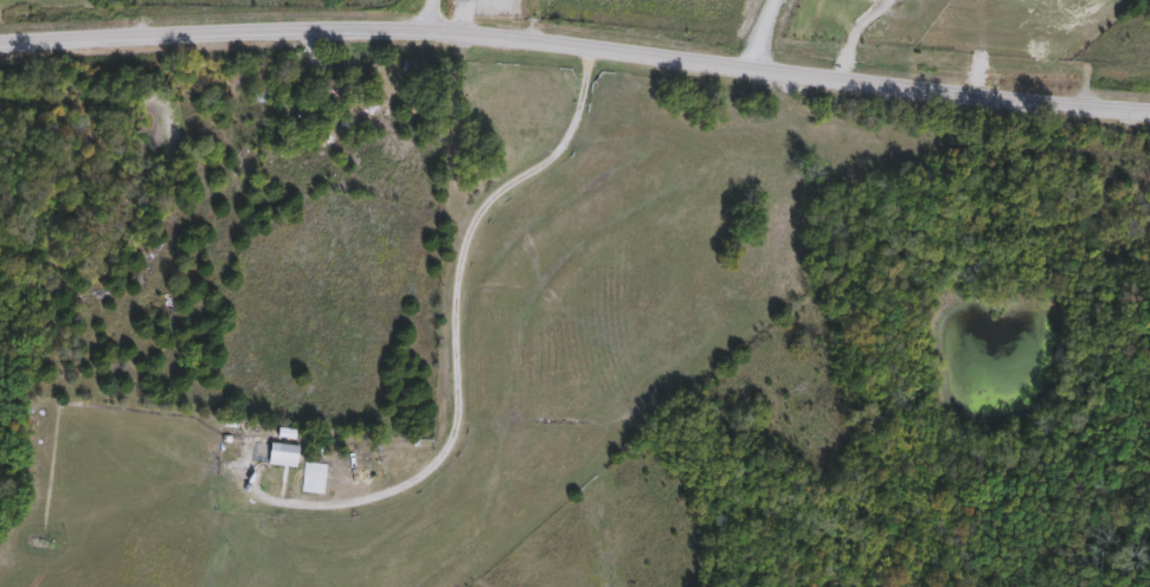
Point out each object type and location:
road: (425, 15)
road: (747, 36)
road: (576, 46)
building: (261, 96)
road: (457, 337)

